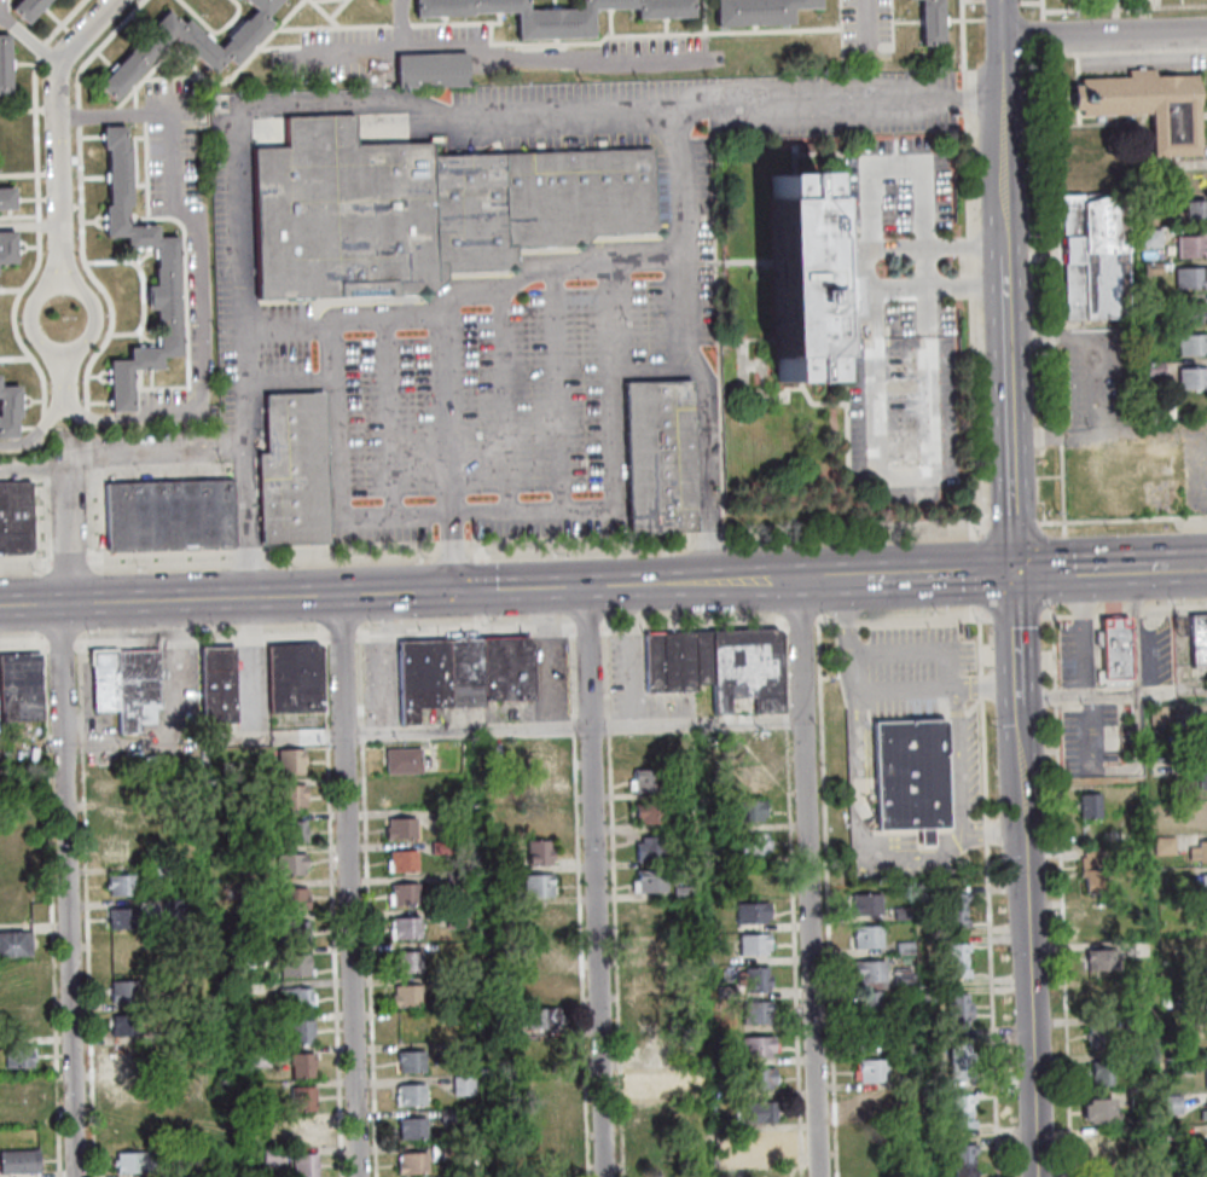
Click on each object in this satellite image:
road: (111, 1)
parking lot: (2, 4)
road: (1124, 6)
road: (1040, 7)
building: (28, 8)
road: (2, 10)
building: (760, 11)
building: (555, 13)
road: (64, 21)
building: (932, 22)
road: (400, 23)
road: (401, 24)
parking lot: (863, 24)
road: (347, 25)
road: (865, 27)
road: (841, 29)
road: (215, 30)
road: (892, 31)
road: (1043, 31)
road: (1103, 31)
road: (614, 33)
road: (29, 41)
building: (187, 45)
parking lot: (367, 46)
road: (94, 47)
road: (384, 47)
parking lot: (658, 47)
road: (41, 48)
road: (1125, 48)
road: (871, 52)
road: (489, 53)
road: (658, 58)
road: (550, 60)
building: (6, 64)
building: (433, 69)
parking lot: (750, 99)
building: (1148, 108)
road: (79, 115)
road: (114, 115)
road: (57, 122)
road: (234, 133)
road: (35, 138)
road: (172, 141)
parking lot: (176, 144)
building: (7, 198)
building: (1153, 202)
building: (425, 208)
building: (1195, 209)
road: (18, 218)
road: (37, 226)
road: (30, 227)
road: (1049, 234)
building: (1151, 237)
building: (1191, 244)
building: (7, 245)
building: (1095, 255)
road: (654, 261)
building: (167, 266)
road: (969, 266)
building: (1153, 268)
road: (853, 271)
building: (1190, 276)
road: (93, 277)
building: (799, 277)
road: (1002, 286)
road: (86, 290)
building: (1153, 302)
building: (1194, 311)
road: (341, 321)
road: (684, 325)
road: (14, 330)
road: (1099, 335)
building: (1193, 343)
parking lot: (488, 360)
road: (925, 370)
building: (1155, 370)
road: (652, 371)
parking lot: (1098, 376)
building: (1193, 377)
road: (288, 381)
road: (611, 385)
road: (558, 389)
road: (64, 390)
road: (504, 398)
parking lot: (900, 398)
building: (10, 411)
road: (202, 412)
road: (389, 417)
road: (335, 419)
road: (1108, 430)
road: (1058, 433)
road: (70, 443)
road: (157, 447)
building: (660, 456)
road: (35, 468)
building: (294, 469)
parking lot: (1195, 474)
road: (707, 485)
road: (1062, 488)
road: (475, 512)
building: (170, 514)
building: (16, 516)
road: (1121, 518)
road: (1011, 521)
road: (71, 526)
road: (855, 530)
road: (710, 539)
road: (579, 541)
road: (451, 544)
road: (350, 549)
road: (248, 552)
road: (480, 552)
street lamp: (666, 553)
road: (161, 556)
road: (68, 559)
road: (25, 563)
street lamp: (422, 563)
road: (1182, 567)
road: (1058, 568)
road: (1084, 569)
road: (977, 570)
traffic signals: (1012, 573)
road: (945, 574)
street lamp: (34, 575)
road: (477, 590)
road: (439, 591)
traffic signals: (453, 591)
road: (1174, 605)
road: (1135, 608)
road: (1109, 611)
street lamp: (712, 613)
road: (1081, 613)
street lamp: (822, 614)
road: (1015, 615)
road: (1048, 615)
road: (1062, 615)
road: (923, 619)
road: (846, 621)
street lamp: (488, 622)
road: (800, 622)
road: (825, 622)
road: (477, 625)
street lamp: (280, 626)
street lamp: (371, 626)
road: (694, 627)
street lamp: (139, 628)
street lamp: (216, 628)
road: (539, 630)
road: (559, 630)
road: (585, 630)
road: (1150, 630)
road: (441, 631)
road: (1083, 632)
street lamp: (88, 634)
road: (340, 634)
building: (1196, 637)
road: (199, 639)
road: (980, 640)
road: (23, 645)
road: (60, 645)
building: (1113, 645)
road: (913, 650)
road: (846, 656)
road: (541, 657)
building: (672, 659)
road: (385, 662)
parking lot: (913, 666)
building: (743, 667)
road: (784, 667)
building: (463, 672)
road: (605, 672)
road: (570, 674)
building: (294, 677)
road: (359, 679)
road: (324, 680)
building: (217, 683)
road: (936, 684)
road: (981, 684)
building: (19, 685)
building: (128, 685)
parking lot: (550, 688)
road: (1110, 692)
building: (1154, 714)
road: (785, 718)
road: (608, 724)
road: (571, 725)
road: (539, 727)
building: (1202, 731)
road: (361, 732)
road: (326, 734)
road: (162, 738)
building: (749, 743)
building: (646, 748)
building: (536, 749)
building: (495, 758)
building: (402, 759)
building: (291, 760)
building: (180, 771)
building: (907, 776)
building: (1202, 776)
building: (646, 778)
building: (752, 778)
building: (263, 781)
building: (117, 783)
building: (539, 783)
building: (292, 795)
building: (498, 796)
building: (1090, 805)
building: (754, 810)
building: (1162, 811)
building: (650, 812)
building: (536, 817)
building: (1203, 817)
building: (122, 818)
building: (448, 819)
building: (400, 827)
building: (292, 829)
building: (494, 829)
road: (991, 829)
building: (150, 837)
building: (442, 841)
building: (753, 845)
building: (1165, 845)
building: (650, 848)
building: (120, 850)
building: (250, 850)
building: (1197, 850)
building: (539, 852)
building: (712, 854)
building: (402, 859)
road: (907, 859)
building: (292, 863)
building: (1095, 869)
building: (163, 871)
road: (1025, 874)
building: (458, 877)
road: (807, 877)
road: (593, 881)
building: (649, 881)
building: (121, 883)
building: (1202, 883)
road: (347, 885)
building: (540, 885)
building: (242, 887)
road: (68, 889)
road: (1061, 889)
building: (402, 893)
building: (924, 894)
building: (295, 897)
building: (173, 899)
road: (826, 899)
building: (953, 900)
building: (867, 903)
building: (1132, 905)
road: (86, 910)
road: (50, 911)
building: (652, 911)
building: (753, 911)
building: (904, 911)
building: (1206, 916)
building: (124, 918)
building: (455, 918)
building: (540, 918)
building: (953, 918)
building: (1097, 918)
building: (405, 927)
building: (495, 929)
building: (295, 930)
building: (867, 935)
road: (988, 935)
building: (16, 943)
building: (755, 943)
building: (905, 946)
building: (124, 947)
building: (1206, 949)
building: (541, 951)
building: (954, 951)
road: (794, 952)
road: (580, 955)
road: (615, 955)
building: (243, 956)
building: (1103, 957)
road: (369, 958)
road: (333, 959)
building: (408, 959)
building: (297, 964)
building: (954, 968)
building: (869, 969)
building: (903, 978)
building: (1203, 978)
building: (759, 979)
building: (654, 980)
building: (542, 985)
building: (723, 985)
building: (124, 990)
building: (685, 991)
building: (406, 995)
building: (929, 996)
building: (296, 997)
building: (1165, 999)
building: (954, 1001)
building: (870, 1002)
building: (1203, 1008)
building: (759, 1011)
building: (658, 1014)
building: (954, 1016)
building: (17, 1017)
building: (542, 1017)
building: (1133, 1021)
building: (124, 1024)
building: (167, 1030)
building: (504, 1030)
building: (301, 1031)
building: (1102, 1032)
building: (872, 1036)
building: (759, 1045)
building: (658, 1046)
building: (906, 1048)
building: (956, 1051)
building: (19, 1055)
building: (259, 1056)
building: (127, 1060)
building: (411, 1060)
building: (1135, 1060)
building: (302, 1062)
building: (1183, 1063)
building: (956, 1068)
building: (872, 1069)
building: (1102, 1073)
building: (1206, 1075)
building: (762, 1077)
building: (657, 1082)
building: (463, 1084)
building: (907, 1084)
building: (723, 1086)
building: (694, 1089)
building: (25, 1092)
building: (128, 1092)
building: (411, 1094)
building: (304, 1097)
building: (167, 1098)
building: (958, 1101)
building: (1137, 1101)
building: (874, 1102)
building: (1173, 1102)
building: (1203, 1107)
building: (761, 1109)
building: (1099, 1109)
building: (658, 1114)
building: (721, 1118)
building: (958, 1118)
building: (694, 1119)
building: (127, 1126)
building: (412, 1127)
building: (304, 1131)
building: (1173, 1132)
building: (1206, 1138)
building: (759, 1146)
building: (661, 1147)
building: (961, 1149)
building: (1103, 1149)
building: (550, 1150)
building: (272, 1155)
building: (727, 1159)
building: (19, 1160)
building: (132, 1161)
building: (412, 1161)
building: (509, 1162)
building: (188, 1165)
building: (306, 1165)
building: (875, 1167)
building: (961, 1167)
building: (762, 1172)
building: (911, 1172)
building: (454, 1173)
building: (663, 1175)
building: (551, 1176)
building: (1108, 1176)

